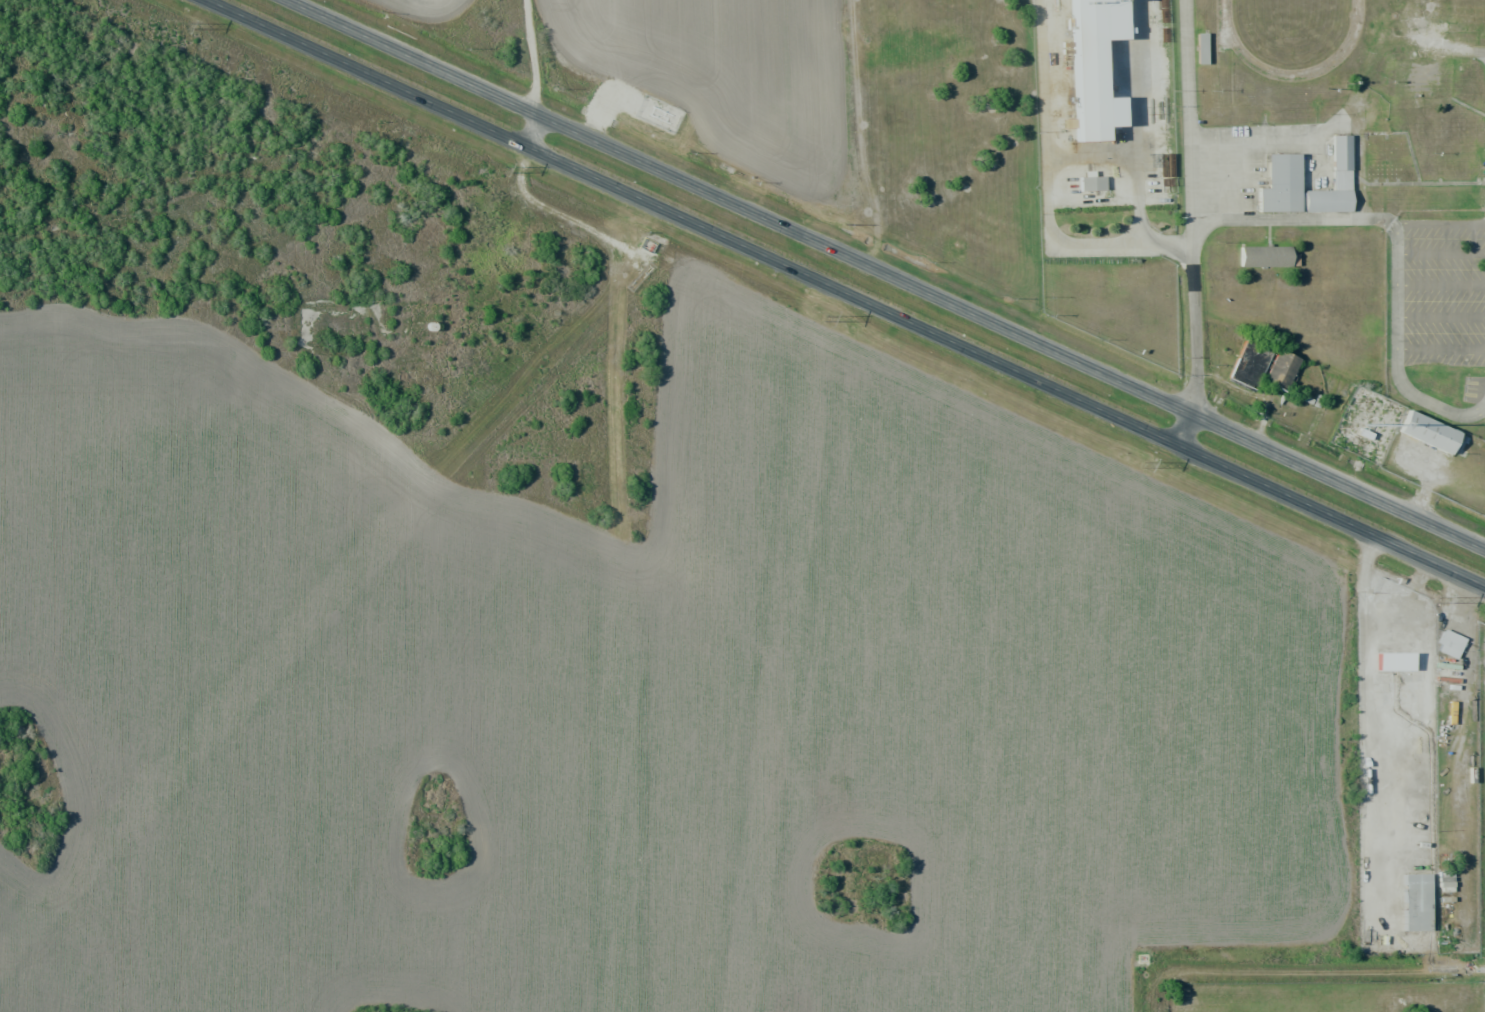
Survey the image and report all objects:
crop: (434, 10)
power tower: (184, 26)
building: (1201, 48)
building: (1094, 66)
crop: (739, 80)
road: (1189, 110)
road: (531, 130)
power tower: (501, 169)
building: (1091, 183)
road: (1047, 185)
building: (1284, 186)
building: (1331, 203)
road: (1293, 220)
road: (1438, 224)
road: (1440, 254)
building: (1268, 257)
road: (885, 274)
road: (1440, 285)
road: (846, 293)
power tower: (822, 317)
road: (1195, 317)
road: (1440, 317)
road: (1440, 349)
road: (1396, 355)
building: (1245, 367)
building: (1281, 370)
road: (1180, 428)
building: (1435, 438)
power tower: (1139, 463)
power tower: (1435, 599)
building: (1451, 640)
crop: (634, 700)
building: (1444, 880)
building: (1416, 902)
road: (1306, 971)

